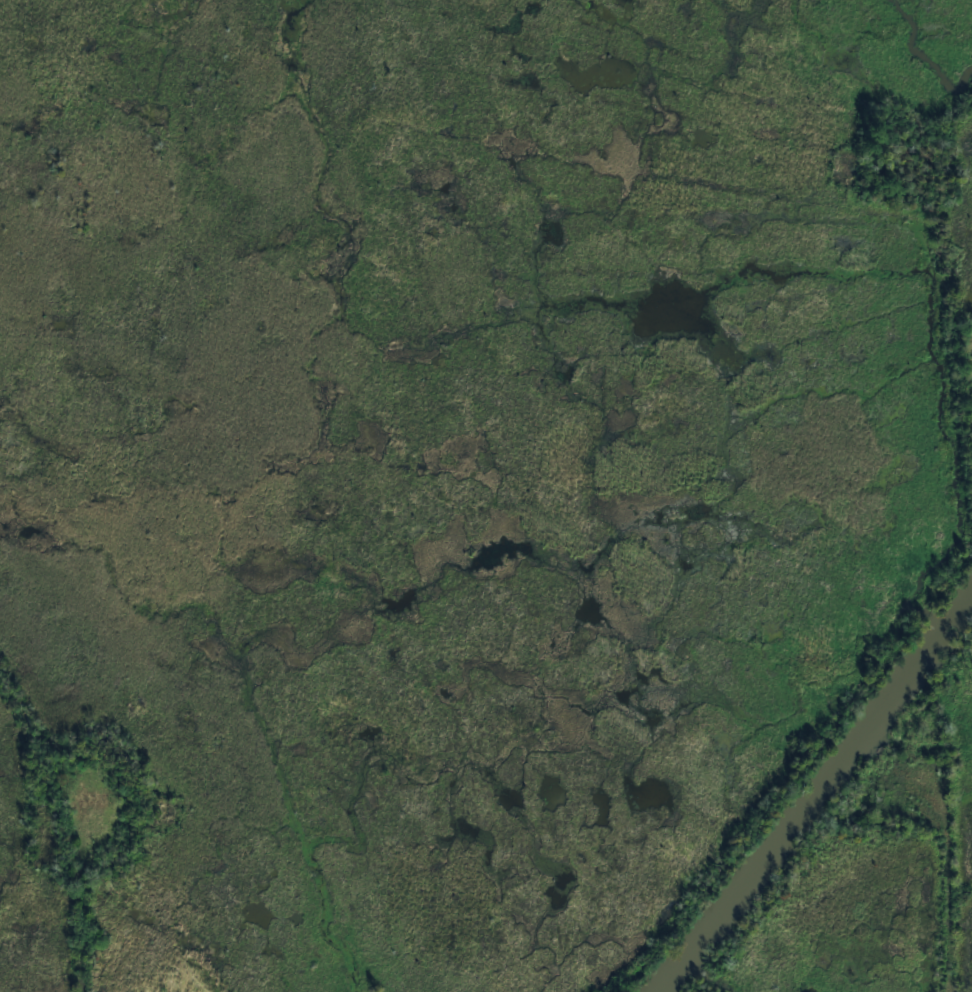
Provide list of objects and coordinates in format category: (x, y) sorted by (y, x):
road: (952, 871)

